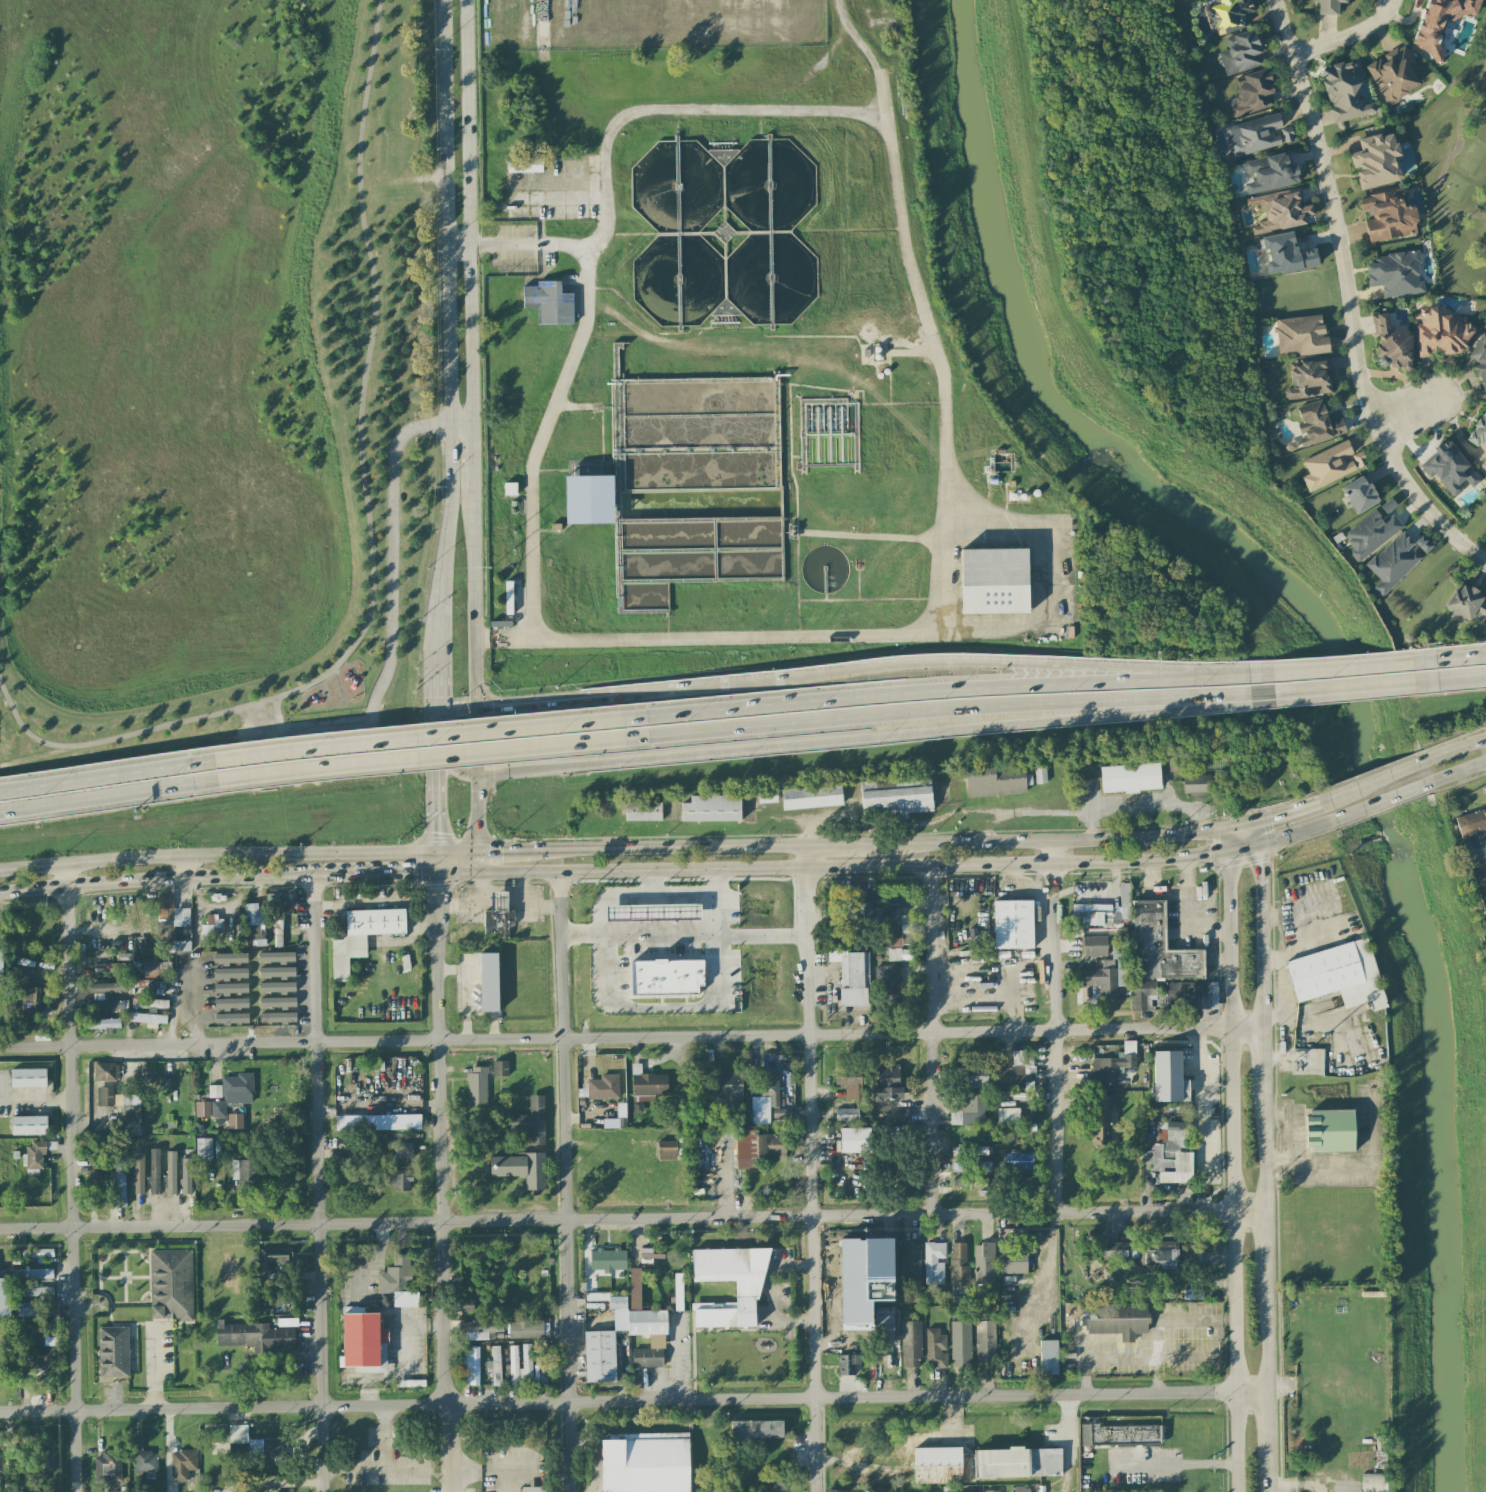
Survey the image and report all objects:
road: (759, 4)
building: (1328, 6)
building: (1229, 15)
road: (545, 21)
building: (1440, 21)
road: (1344, 35)
road: (561, 42)
building: (1240, 53)
road: (868, 59)
building: (1393, 74)
building: (1344, 91)
building: (1252, 93)
building: (1287, 134)
building: (1254, 135)
building: (1375, 161)
building: (524, 165)
park: (1452, 171)
building: (1270, 173)
building: (1279, 211)
road: (468, 213)
building: (1387, 216)
road: (502, 245)
road: (458, 246)
building: (1286, 254)
building: (1395, 274)
road: (447, 298)
building: (549, 303)
road: (1343, 303)
building: (1443, 333)
building: (1300, 335)
building: (1392, 343)
building: (1480, 359)
park: (214, 375)
building: (1308, 379)
wastewater plant: (733, 381)
road: (1404, 410)
road: (546, 424)
building: (1317, 424)
road: (461, 427)
building: (1478, 431)
road: (472, 462)
building: (1331, 465)
building: (1484, 465)
building: (1449, 469)
road: (462, 478)
road: (945, 487)
building: (509, 489)
building: (1359, 494)
building: (589, 499)
road: (368, 526)
building: (1370, 534)
building: (1422, 544)
building: (1393, 563)
road: (941, 572)
building: (994, 581)
road: (389, 598)
building: (1466, 605)
road: (436, 631)
road: (475, 635)
road: (1460, 653)
road: (1341, 662)
road: (1001, 664)
road: (1224, 671)
road: (1461, 678)
river: (1337, 683)
road: (703, 686)
road: (435, 689)
road: (1344, 690)
road: (923, 692)
road: (540, 701)
traffic signals: (477, 707)
road: (456, 709)
traffic signals: (435, 712)
road: (278, 715)
road: (950, 719)
road: (432, 733)
road: (434, 737)
road: (713, 747)
road: (1451, 750)
road: (434, 756)
building: (1174, 761)
road: (455, 768)
road: (108, 772)
railway: (743, 773)
building: (1040, 773)
traffic signals: (477, 775)
road: (1455, 775)
building: (1130, 778)
building: (994, 781)
road: (1373, 781)
building: (1196, 785)
road: (109, 796)
building: (767, 796)
building: (811, 797)
road: (1380, 803)
road: (434, 807)
building: (711, 808)
building: (643, 810)
road: (478, 814)
traffic signals: (1273, 819)
building: (1472, 823)
road: (1257, 835)
traffic signals: (434, 836)
road: (1105, 840)
road: (842, 846)
road: (670, 849)
building: (1475, 849)
traffic signals: (494, 852)
road: (505, 852)
road: (1049, 852)
road: (456, 853)
traffic signals: (1209, 855)
road: (1195, 856)
road: (216, 857)
road: (434, 862)
road: (471, 862)
traffic signals: (1259, 862)
building: (1485, 863)
road: (194, 868)
road: (765, 869)
road: (394, 872)
traffic signals: (415, 872)
road: (449, 872)
road: (472, 872)
building: (1480, 877)
road: (176, 879)
road: (1259, 879)
road: (480, 880)
road: (718, 883)
road: (650, 884)
road: (451, 887)
road: (501, 888)
road: (435, 891)
road: (1155, 891)
road: (865, 895)
road: (659, 897)
traffic signals: (442, 899)
building: (1483, 900)
building: (497, 902)
road: (528, 902)
road: (462, 903)
road: (437, 906)
building: (165, 907)
building: (1103, 911)
building: (652, 912)
road: (1187, 912)
building: (181, 917)
building: (254, 923)
building: (906, 923)
building: (1013, 924)
building: (212, 926)
building: (497, 927)
building: (277, 930)
building: (362, 936)
road: (684, 936)
building: (906, 938)
building: (893, 939)
road: (1310, 945)
building: (1094, 946)
building: (1160, 947)
building: (899, 954)
road: (1273, 956)
building: (276, 957)
building: (1, 959)
building: (108, 968)
building: (155, 969)
road: (1262, 969)
building: (277, 972)
building: (230, 973)
building: (1108, 973)
building: (850, 975)
building: (1337, 975)
building: (666, 977)
building: (488, 982)
building: (891, 983)
building: (107, 987)
building: (149, 987)
building: (277, 987)
building: (230, 988)
building: (25, 994)
building: (1142, 995)
building: (1191, 995)
building: (277, 1002)
building: (149, 1003)
building: (231, 1003)
building: (106, 1004)
road: (659, 1005)
building: (277, 1017)
building: (147, 1018)
building: (231, 1018)
building: (101, 1022)
road: (630, 1037)
road: (933, 1038)
road: (1055, 1050)
road: (1293, 1054)
road: (1260, 1060)
building: (1307, 1061)
building: (1113, 1065)
building: (500, 1068)
building: (106, 1071)
building: (1014, 1071)
building: (977, 1075)
building: (1168, 1077)
building: (28, 1078)
building: (849, 1082)
building: (477, 1085)
building: (770, 1085)
building: (887, 1085)
building: (603, 1087)
building: (727, 1089)
building: (230, 1093)
building: (104, 1096)
road: (35, 1100)
building: (202, 1109)
building: (972, 1109)
building: (781, 1113)
building: (130, 1114)
building: (846, 1115)
building: (897, 1115)
building: (1007, 1116)
building: (760, 1117)
building: (531, 1120)
building: (234, 1121)
building: (1099, 1121)
building: (377, 1122)
building: (28, 1125)
building: (1330, 1131)
road: (1288, 1135)
building: (855, 1140)
building: (203, 1149)
building: (758, 1149)
road: (1261, 1149)
building: (403, 1150)
building: (666, 1150)
building: (969, 1150)
building: (35, 1154)
building: (1170, 1155)
road: (442, 1157)
building: (1018, 1161)
road: (1229, 1161)
building: (971, 1166)
road: (1365, 1166)
building: (521, 1168)
road: (812, 1169)
building: (154, 1171)
building: (170, 1172)
building: (138, 1173)
building: (186, 1176)
road: (72, 1177)
building: (96, 1178)
building: (969, 1179)
building: (399, 1181)
road: (565, 1181)
road: (321, 1182)
building: (120, 1183)
building: (96, 1199)
road: (1162, 1208)
road: (531, 1218)
road: (1262, 1241)
building: (1143, 1252)
building: (649, 1254)
building: (271, 1259)
building: (608, 1260)
building: (1013, 1261)
building: (934, 1262)
building: (983, 1263)
building: (910, 1264)
building: (959, 1266)
road: (1050, 1267)
building: (32, 1273)
building: (398, 1282)
building: (171, 1284)
building: (634, 1288)
building: (749, 1289)
building: (4, 1297)
building: (617, 1301)
building: (36, 1302)
building: (465, 1305)
building: (1116, 1320)
building: (646, 1322)
building: (480, 1329)
building: (525, 1329)
road: (1263, 1332)
building: (255, 1336)
building: (985, 1341)
building: (363, 1343)
building: (911, 1344)
building: (960, 1344)
building: (935, 1349)
building: (113, 1352)
building: (599, 1356)
building: (647, 1357)
building: (1048, 1357)
building: (40, 1359)
building: (541, 1362)
building: (513, 1364)
building: (526, 1364)
building: (847, 1364)
building: (471, 1365)
building: (494, 1366)
building: (2, 1372)
road: (1279, 1388)
road: (1164, 1391)
road: (532, 1402)
road: (1264, 1422)
building: (756, 1431)
building: (1120, 1435)
road: (1065, 1442)
building: (256, 1444)
road: (453, 1446)
road: (904, 1458)
building: (42, 1460)
building: (144, 1461)
building: (646, 1463)
building: (1018, 1463)
building: (1371, 1463)
building: (1, 1464)
building: (182, 1464)
building: (937, 1465)
building: (107, 1466)
road: (1180, 1466)
road: (387, 1469)
road: (405, 1469)
road: (1266, 1473)
building: (778, 1480)
road: (1295, 1487)
building: (533, 1489)
building: (1021, 1489)
building: (119, 1491)
building: (991, 1491)

